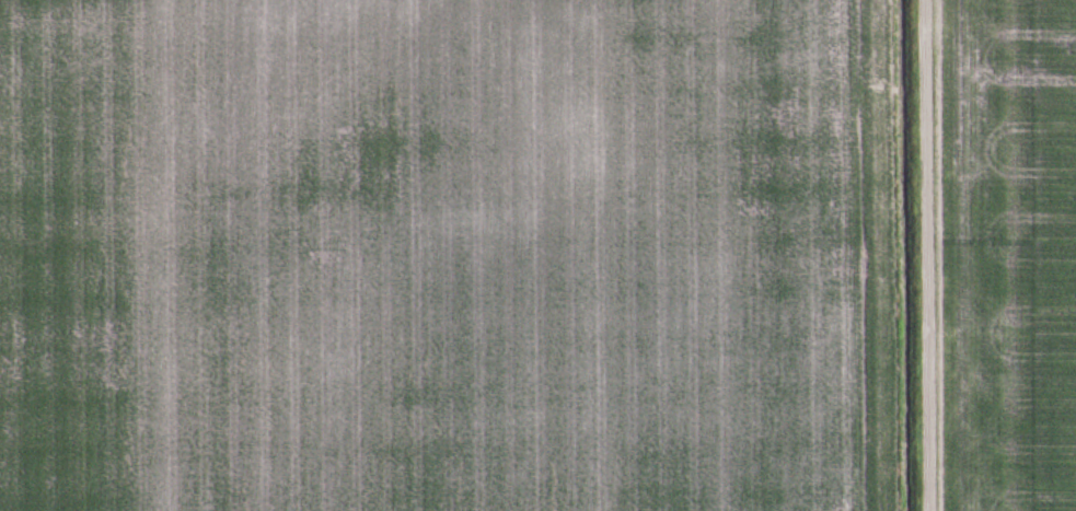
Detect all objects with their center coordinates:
crop: (1005, 254)
crop: (450, 255)
road: (923, 255)

